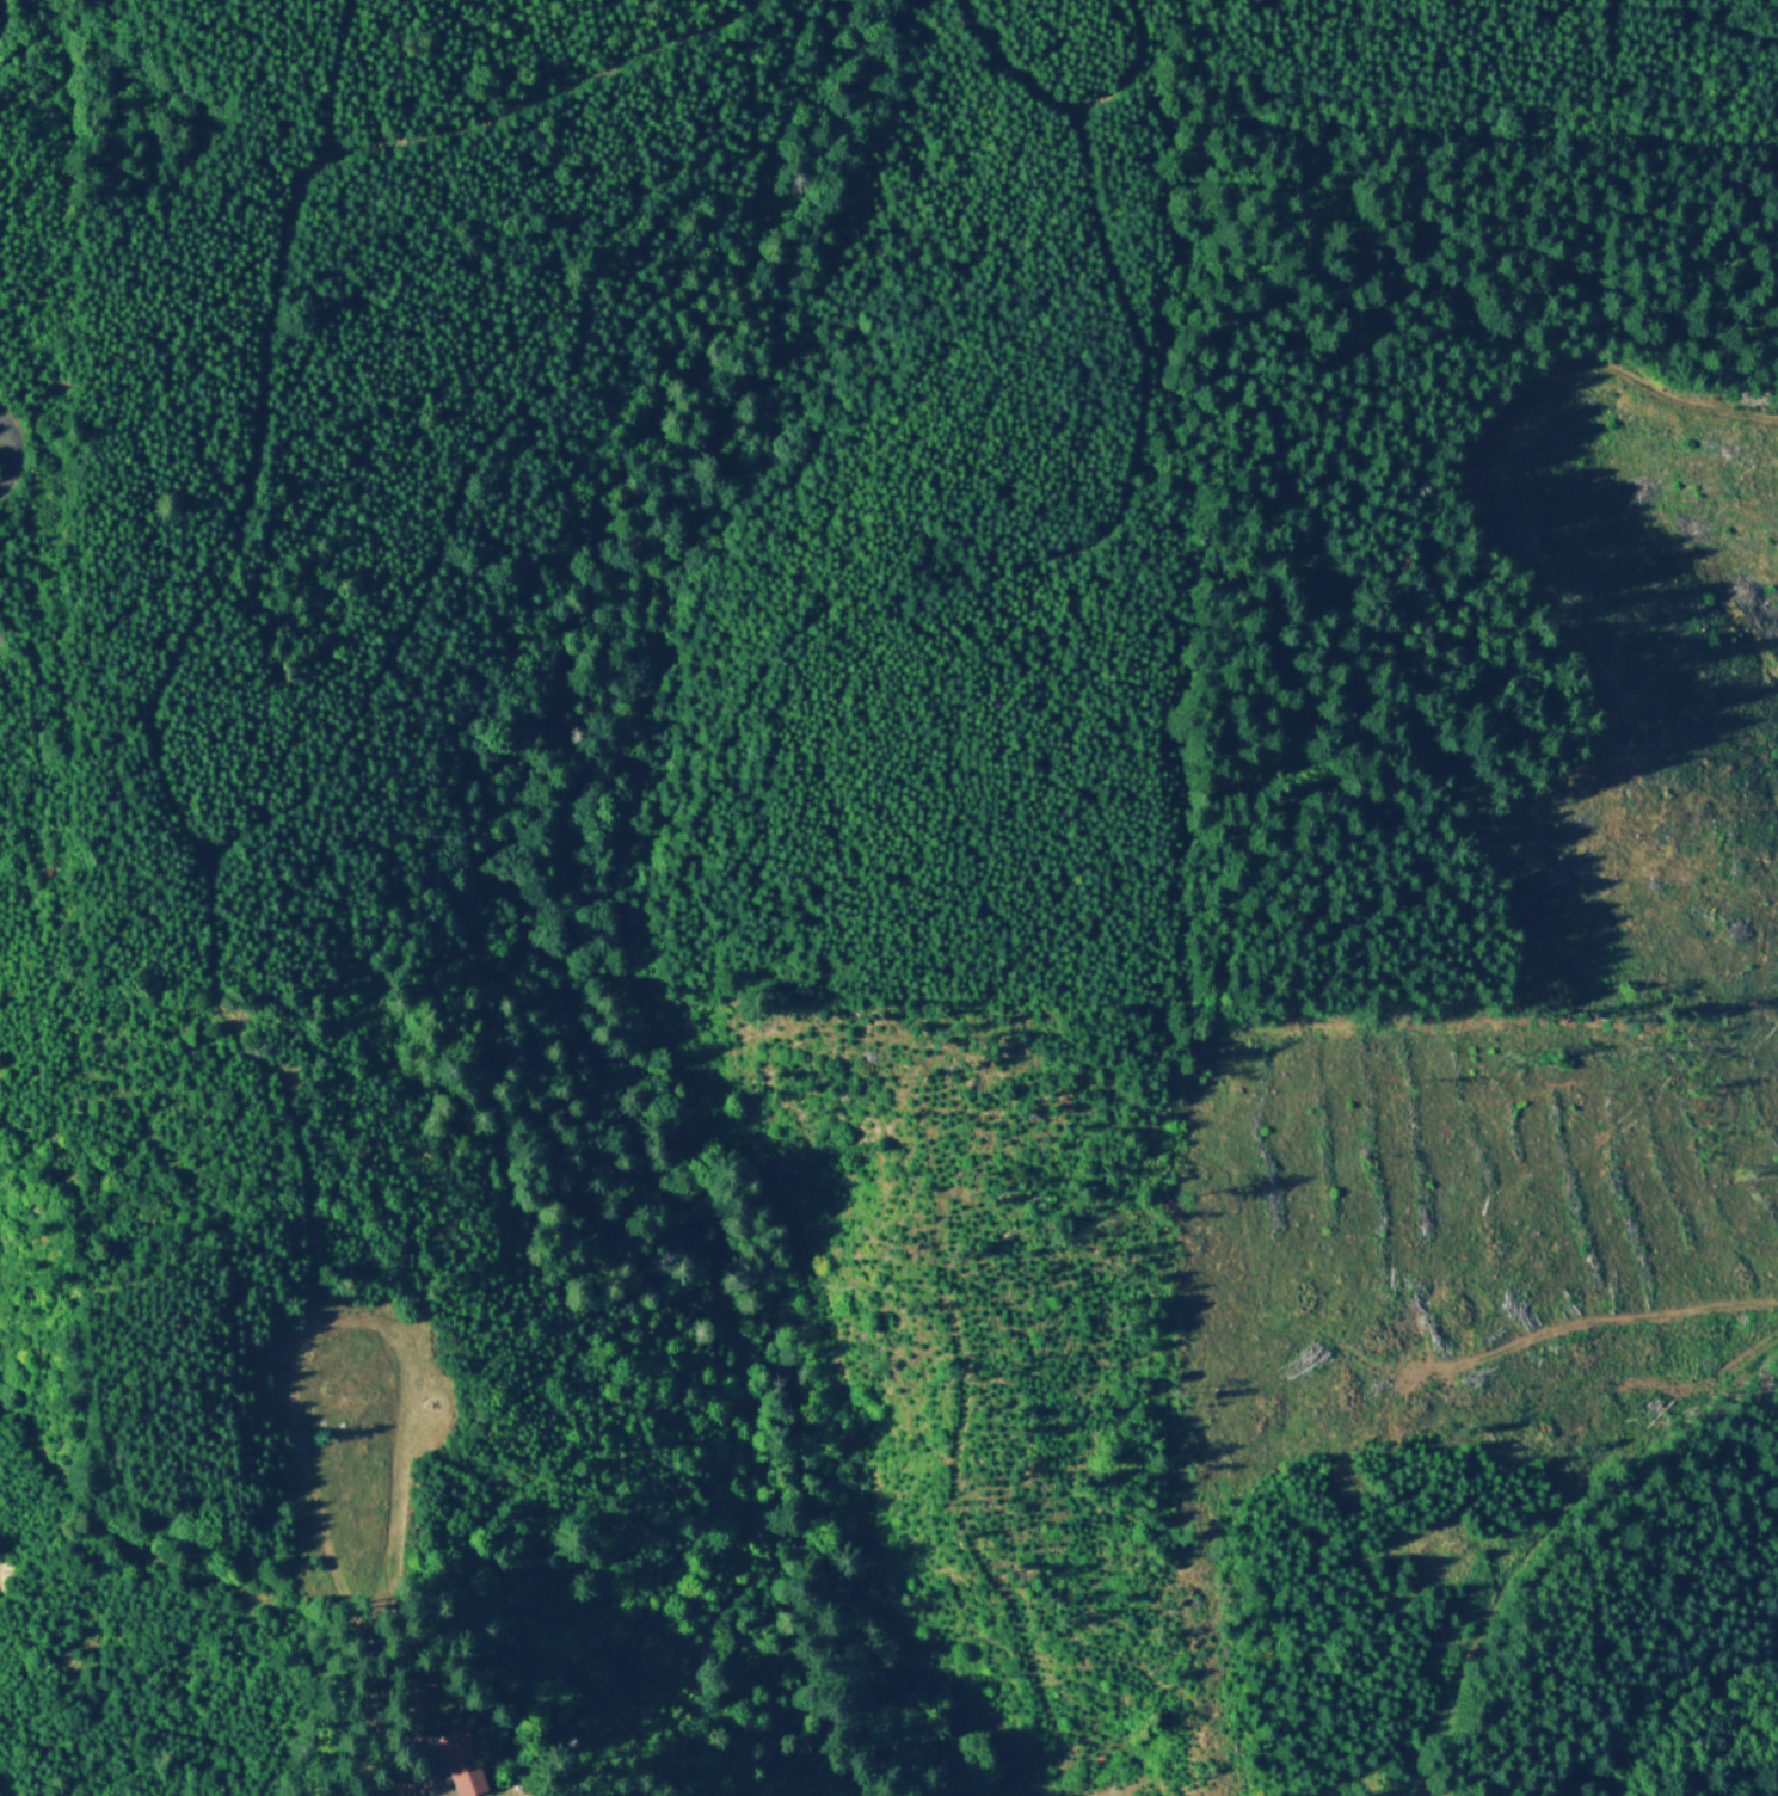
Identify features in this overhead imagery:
road: (2, 16)
road: (543, 93)
road: (1070, 103)
road: (1149, 370)
road: (11, 450)
road: (284, 807)
road: (399, 1336)
road: (953, 1445)
road: (684, 1546)
road: (207, 1575)
road: (878, 1575)
road: (694, 1637)
road: (430, 1741)
building: (469, 1758)
road: (406, 1784)
road: (7, 1790)

